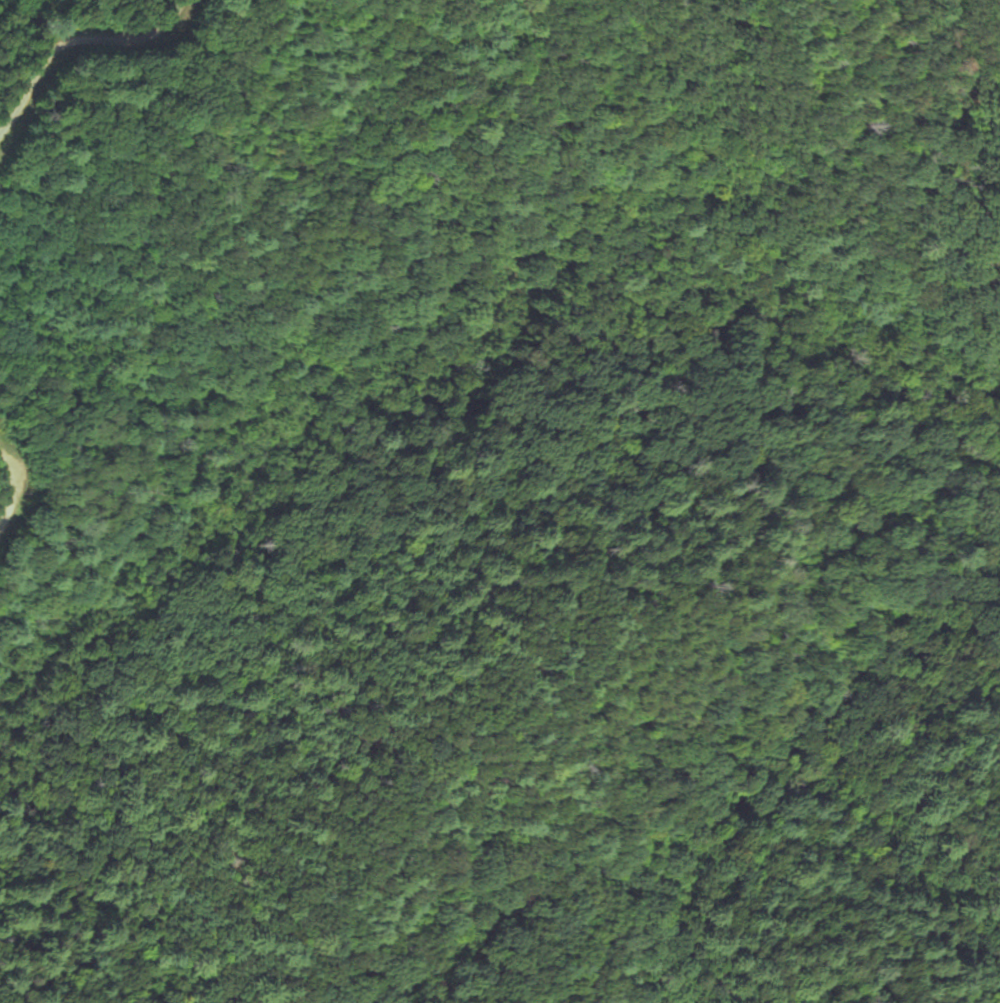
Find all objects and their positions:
road: (71, 15)
road: (5, 476)

